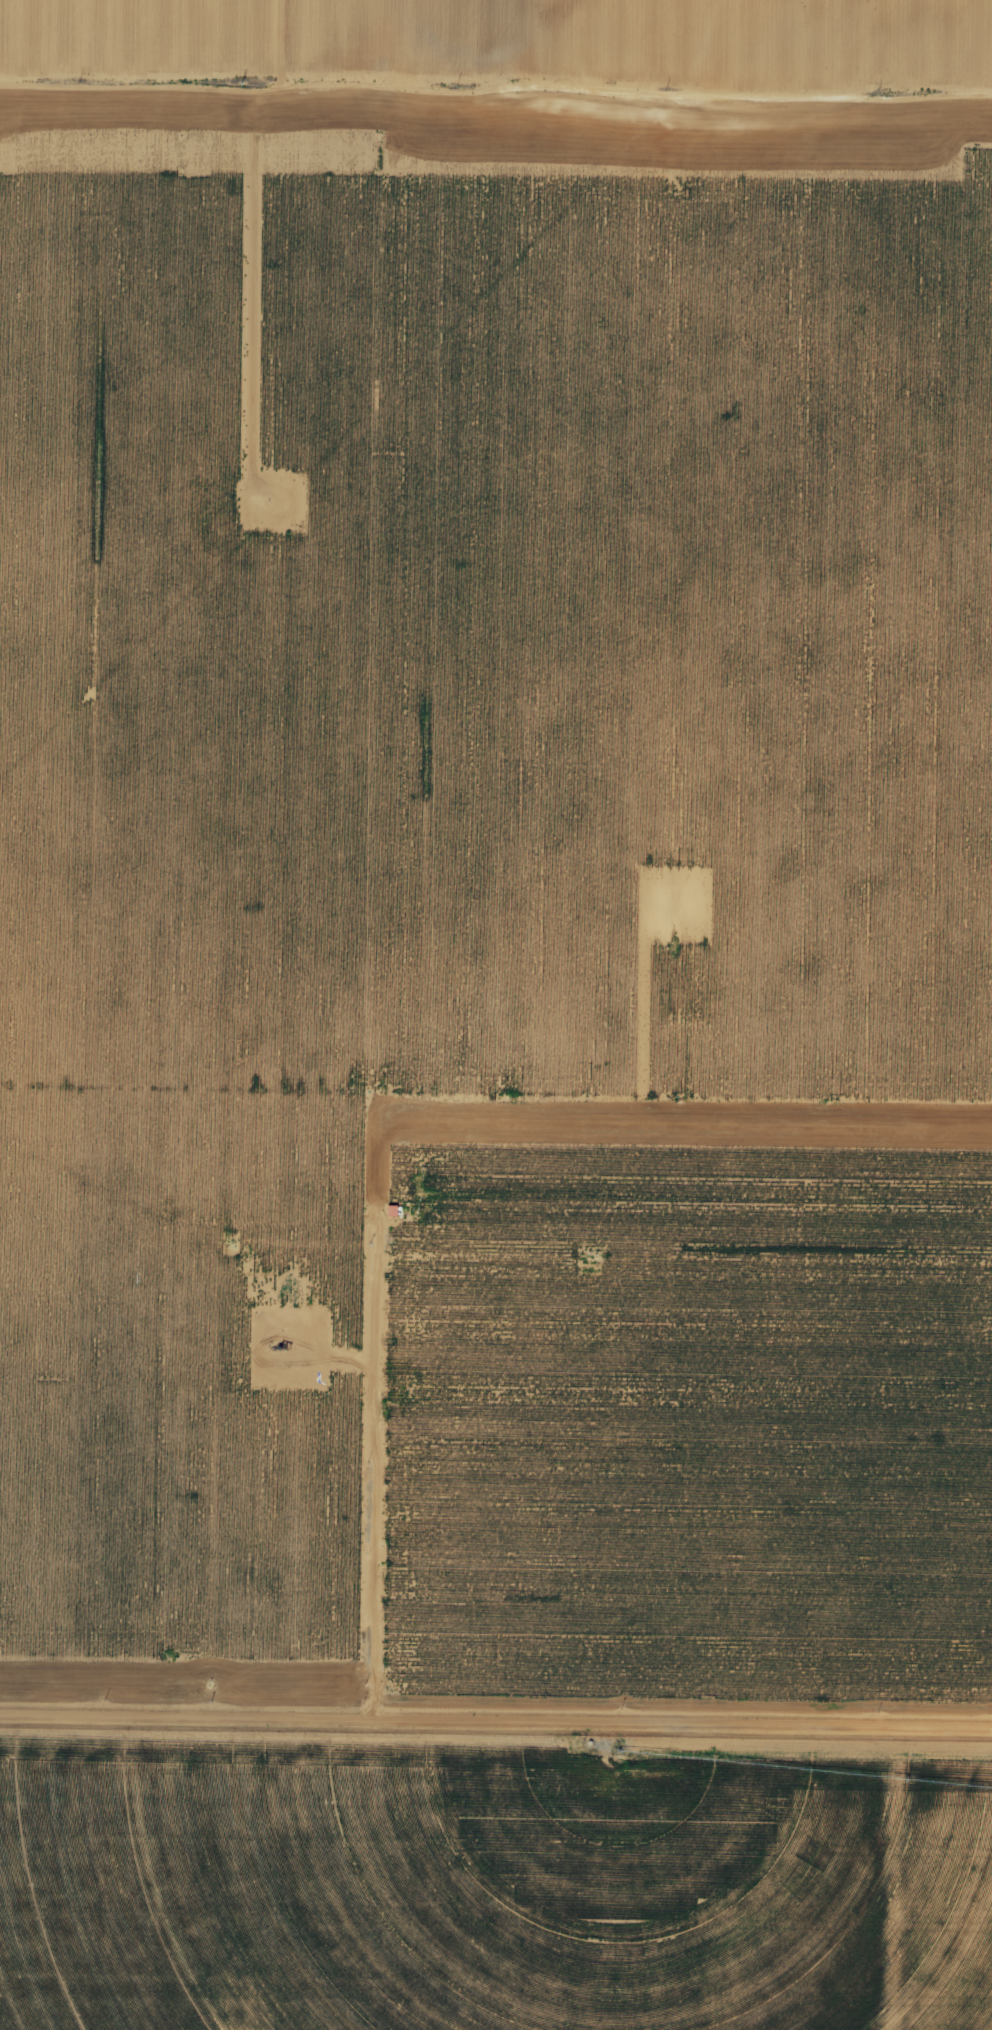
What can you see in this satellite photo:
road: (496, 82)
petroleum well: (273, 1347)
road: (496, 1718)

